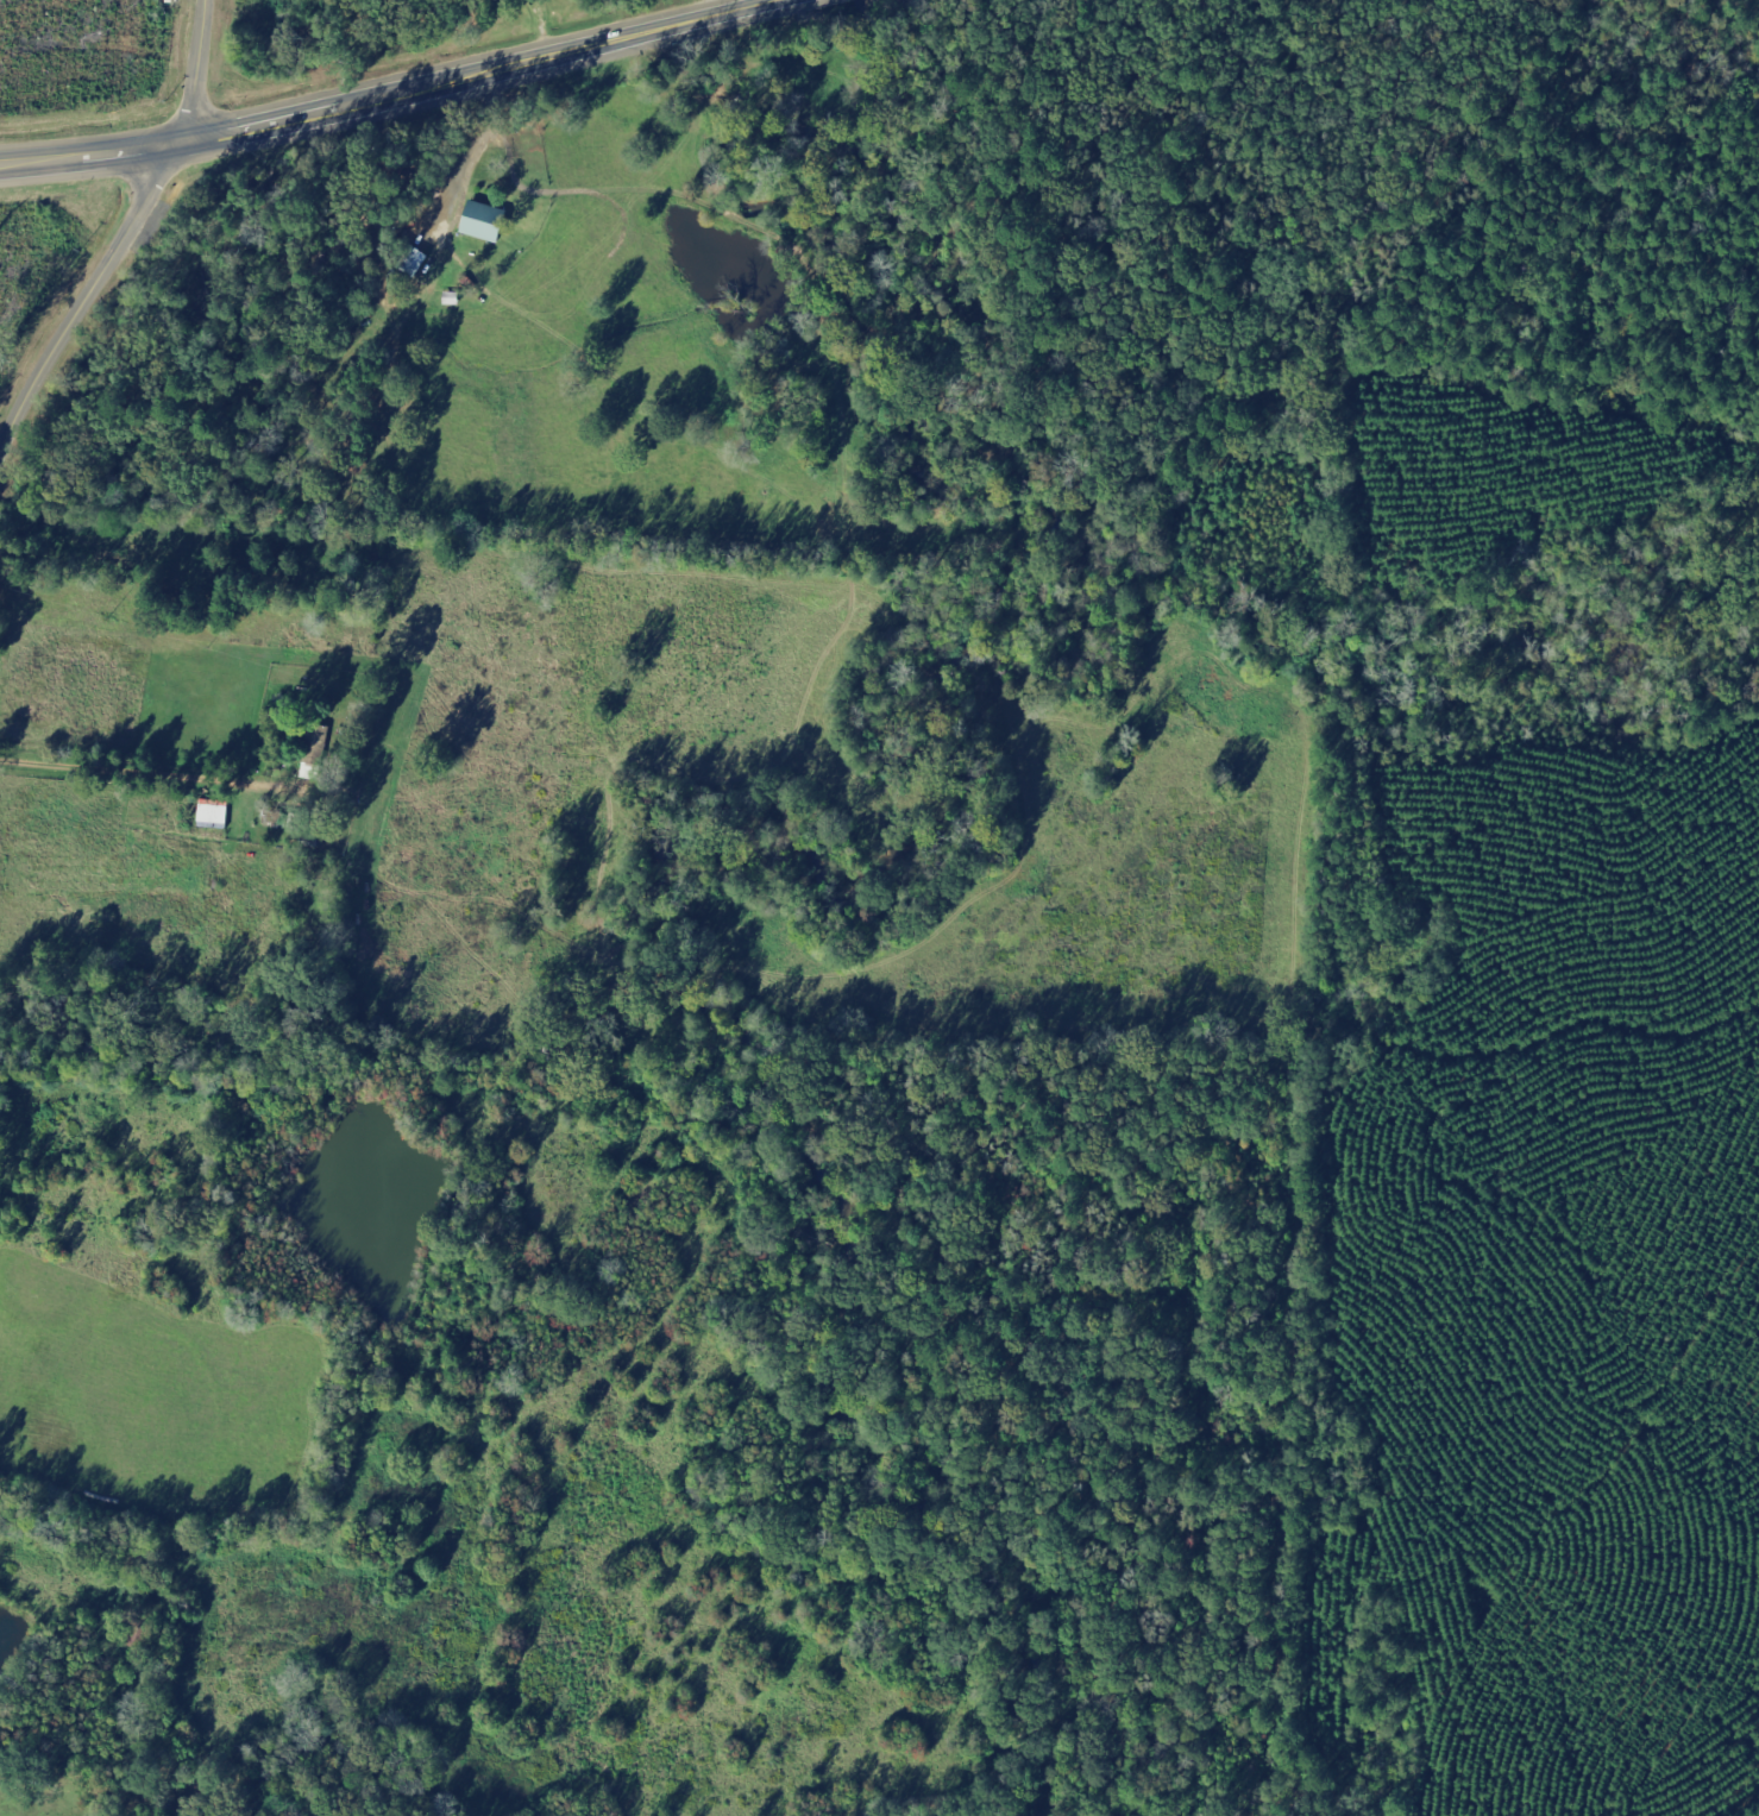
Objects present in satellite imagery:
road: (382, 95)
building: (490, 224)
road: (122, 235)

